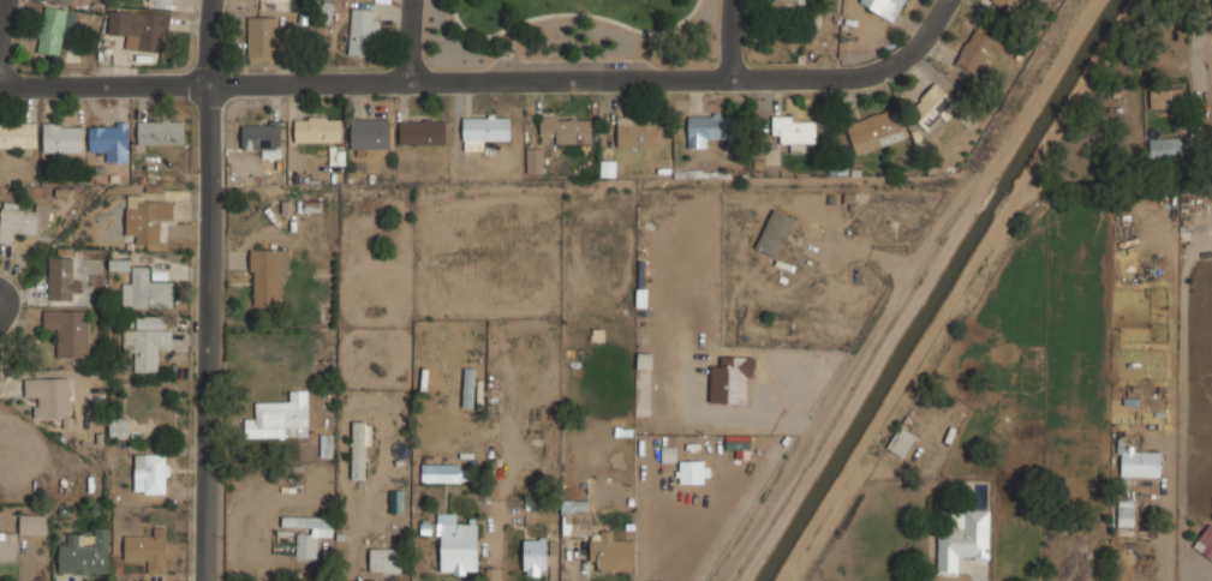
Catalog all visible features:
building: (282, 0)
building: (388, 0)
building: (1035, 0)
building: (62, 1)
building: (163, 1)
building: (787, 4)
building: (1009, 5)
building: (883, 6)
road: (569, 13)
building: (54, 29)
building: (142, 29)
building: (364, 31)
park: (572, 31)
building: (262, 36)
road: (733, 38)
road: (412, 41)
road: (8, 42)
road: (215, 43)
road: (924, 49)
building: (979, 52)
road: (435, 82)
building: (1168, 96)
building: (933, 106)
building: (567, 128)
building: (708, 128)
building: (318, 130)
building: (483, 130)
building: (794, 130)
building: (876, 130)
building: (161, 132)
building: (423, 132)
building: (638, 132)
building: (18, 134)
building: (370, 134)
building: (261, 136)
building: (62, 137)
building: (109, 139)
building: (1165, 149)
building: (535, 160)
building: (148, 216)
building: (23, 218)
building: (775, 233)
building: (268, 275)
building: (61, 277)
building: (147, 290)
building: (68, 331)
road: (204, 334)
building: (147, 342)
building: (714, 383)
building: (467, 387)
building: (757, 393)
building: (49, 395)
building: (283, 420)
building: (119, 427)
building: (901, 442)
building: (359, 449)
building: (1139, 462)
building: (693, 471)
building: (151, 473)
building: (444, 473)
road: (762, 477)
building: (396, 501)
building: (1126, 516)
building: (32, 523)
building: (569, 523)
building: (309, 532)
building: (963, 539)
building: (1205, 541)
building: (7, 546)
building: (456, 546)
building: (147, 551)
building: (611, 552)
building: (85, 553)
building: (535, 556)
building: (384, 561)

